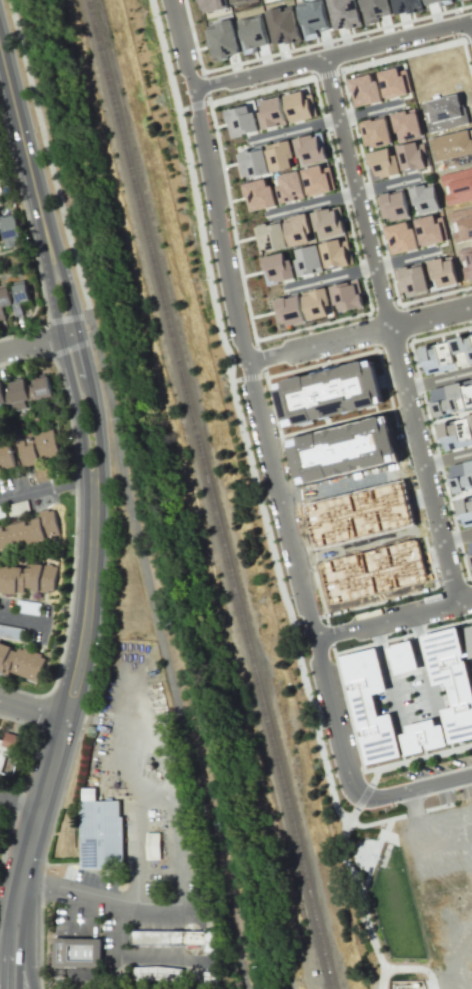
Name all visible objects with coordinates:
building: (236, 0)
building: (463, 0)
building: (443, 4)
building: (212, 5)
building: (405, 6)
building: (374, 9)
building: (343, 11)
building: (312, 17)
building: (283, 22)
road: (469, 38)
building: (222, 39)
road: (332, 55)
road: (402, 55)
road: (326, 74)
building: (395, 83)
street lamp: (253, 86)
road: (259, 90)
building: (364, 91)
road: (195, 105)
building: (299, 106)
road: (182, 109)
road: (369, 111)
building: (271, 113)
building: (240, 121)
street lamp: (350, 128)
street lamp: (35, 130)
road: (293, 130)
building: (374, 132)
building: (409, 141)
building: (310, 148)
building: (279, 157)
building: (252, 163)
building: (382, 164)
building: (318, 180)
road: (388, 186)
building: (289, 187)
road: (355, 192)
building: (258, 195)
building: (424, 198)
road: (311, 205)
building: (392, 206)
street lamp: (226, 219)
building: (297, 230)
building: (431, 230)
building: (9, 231)
building: (269, 236)
building: (332, 237)
building: (400, 237)
street lamp: (26, 238)
road: (404, 259)
building: (308, 261)
building: (276, 269)
building: (443, 271)
road: (329, 278)
building: (411, 280)
building: (346, 296)
building: (13, 297)
building: (315, 303)
building: (288, 311)
road: (214, 314)
road: (68, 318)
street lamp: (88, 329)
road: (359, 334)
road: (33, 343)
road: (71, 347)
building: (447, 355)
street lamp: (18, 363)
street lamp: (295, 365)
road: (250, 376)
road: (235, 379)
road: (438, 380)
building: (24, 391)
building: (452, 397)
road: (256, 401)
building: (456, 433)
building: (38, 448)
building: (6, 457)
road: (447, 458)
road: (423, 465)
building: (42, 473)
building: (461, 475)
road: (45, 489)
road: (128, 494)
railway: (210, 494)
road: (91, 496)
building: (18, 508)
building: (465, 510)
building: (2, 511)
building: (30, 530)
street lamp: (71, 535)
road: (457, 536)
building: (470, 547)
building: (28, 578)
building: (28, 606)
road: (393, 619)
road: (23, 620)
parking lot: (25, 620)
street lamp: (340, 621)
building: (469, 638)
street lamp: (104, 643)
road: (336, 652)
building: (402, 657)
building: (20, 661)
building: (452, 680)
building: (370, 706)
road: (31, 711)
road: (317, 724)
building: (423, 737)
building: (8, 756)
road: (416, 759)
parking lot: (462, 760)
parking lot: (424, 771)
road: (417, 788)
parking lot: (466, 791)
road: (148, 794)
road: (363, 796)
parking lot: (447, 796)
road: (19, 803)
street lamp: (394, 804)
road: (352, 815)
road: (377, 822)
street lamp: (351, 828)
building: (101, 833)
road: (373, 857)
street lamp: (47, 859)
building: (440, 865)
parking lot: (97, 879)
road: (98, 898)
road: (361, 903)
road: (83, 913)
road: (40, 936)
building: (178, 937)
building: (76, 952)
road: (6, 954)
road: (137, 956)
road: (11, 964)
road: (21, 964)
road: (413, 968)
building: (84, 974)
building: (211, 976)

